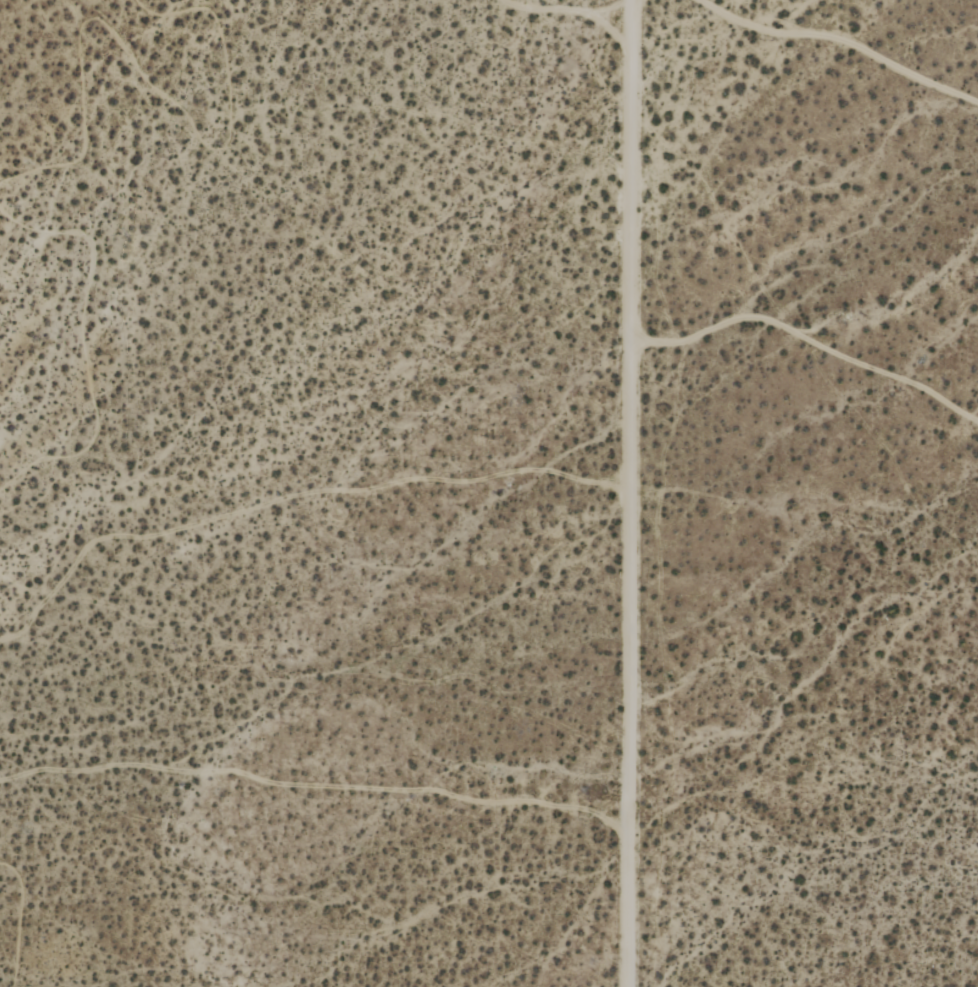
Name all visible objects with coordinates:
road: (807, 336)
road: (629, 493)

